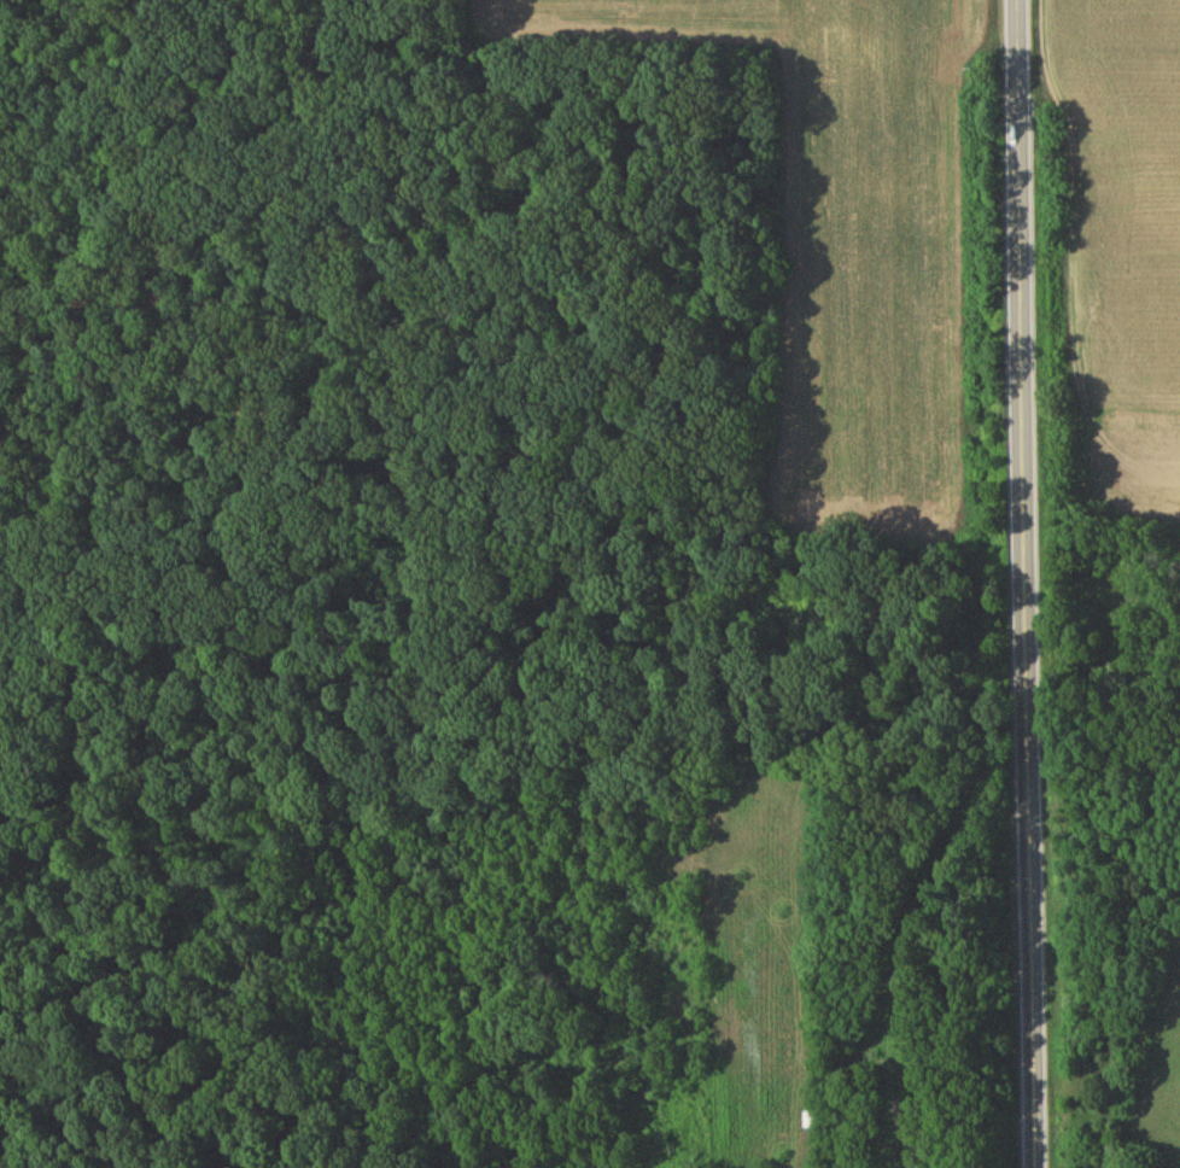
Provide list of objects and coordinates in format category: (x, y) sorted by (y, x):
road: (1024, 584)

